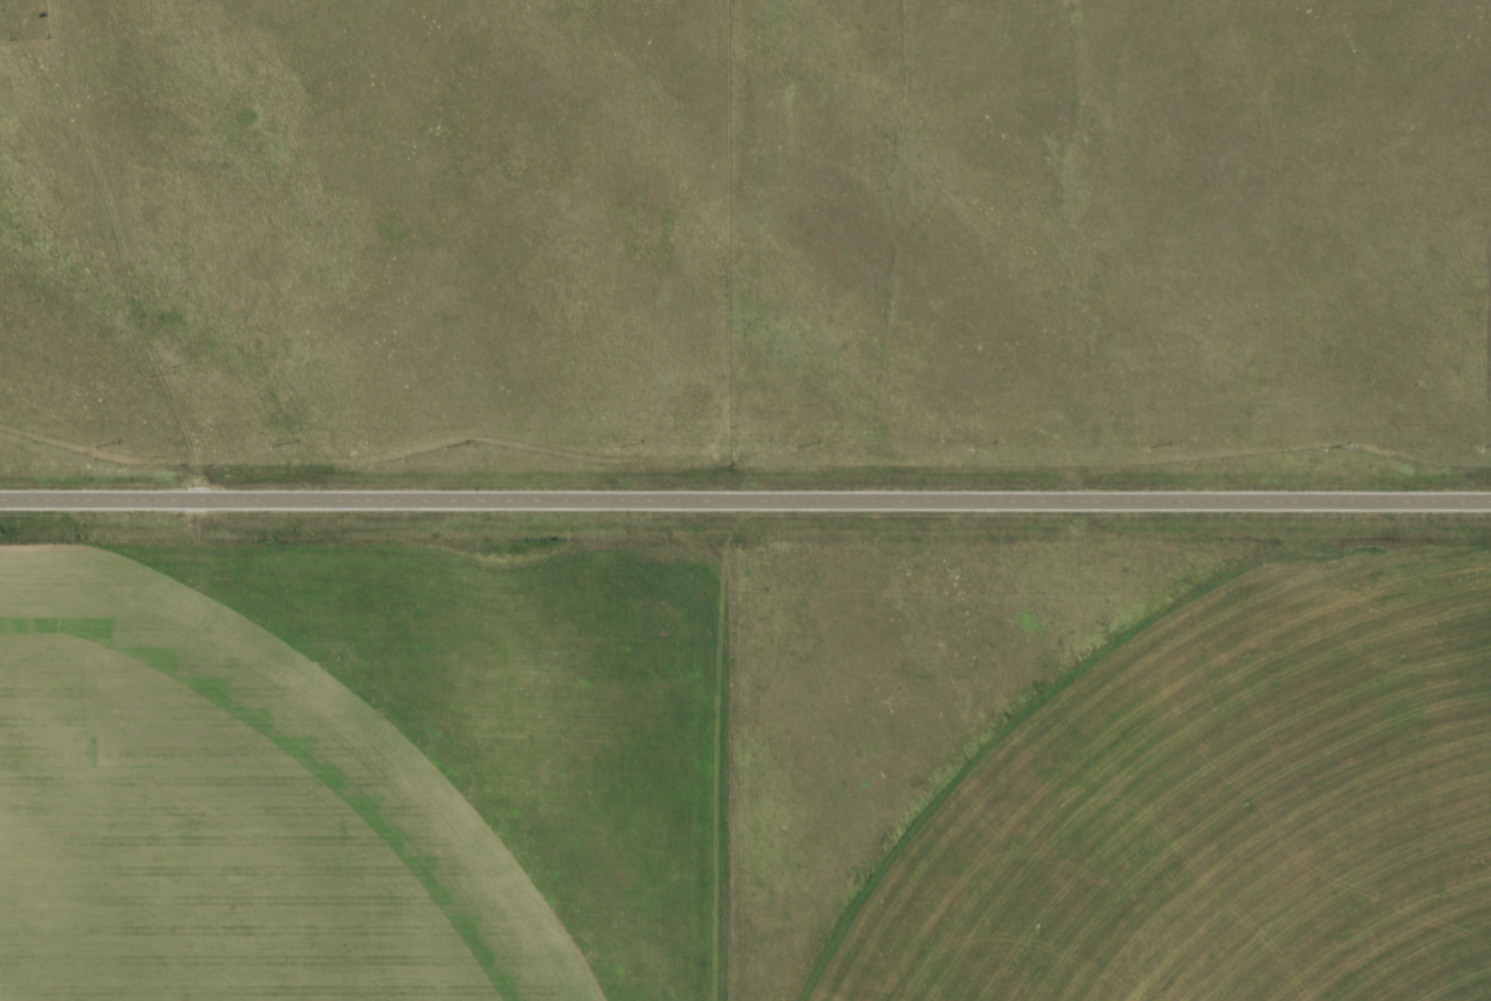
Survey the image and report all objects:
road: (745, 497)

